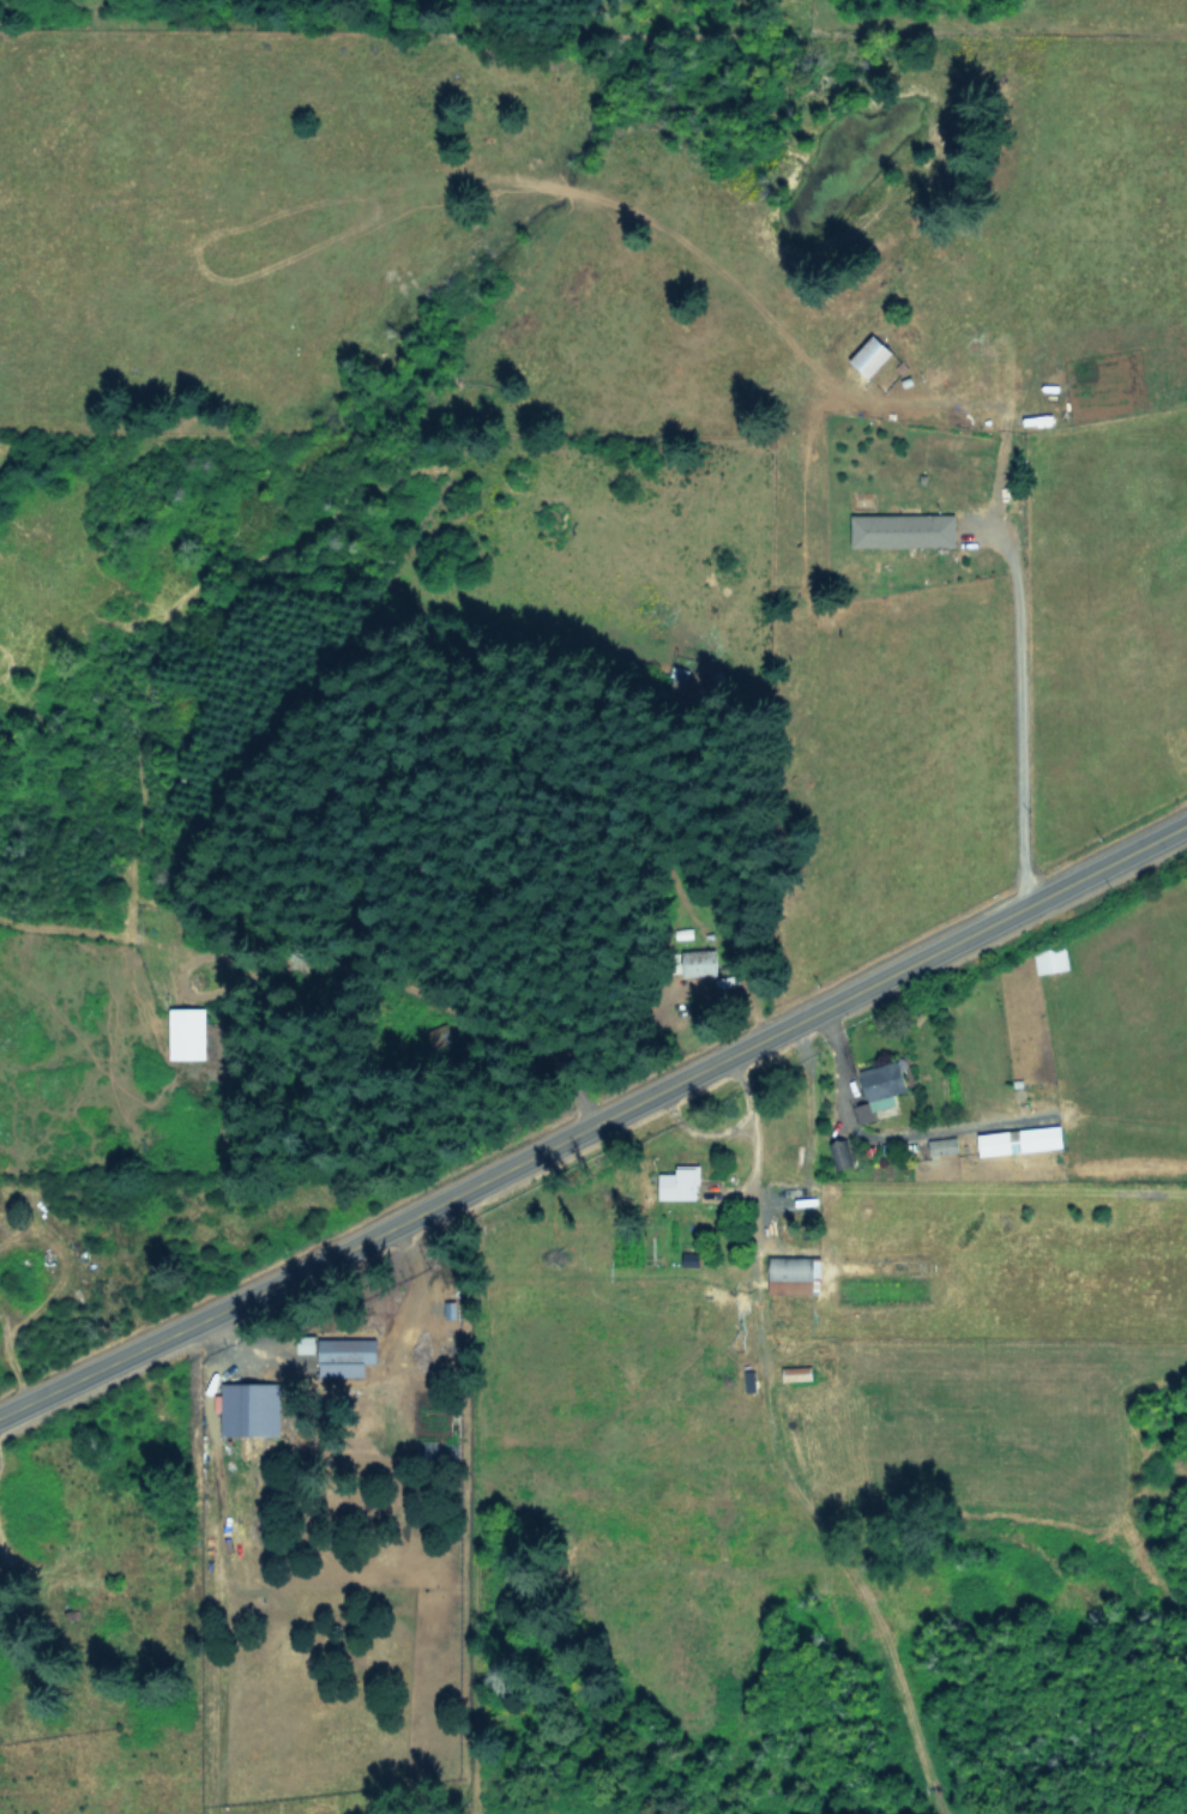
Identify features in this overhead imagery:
building: (872, 354)
building: (904, 528)
road: (1018, 703)
building: (1050, 958)
building: (187, 1032)
building: (884, 1083)
building: (864, 1111)
road: (593, 1116)
building: (1020, 1139)
building: (942, 1144)
building: (680, 1182)
building: (307, 1343)
building: (345, 1355)
building: (251, 1408)

